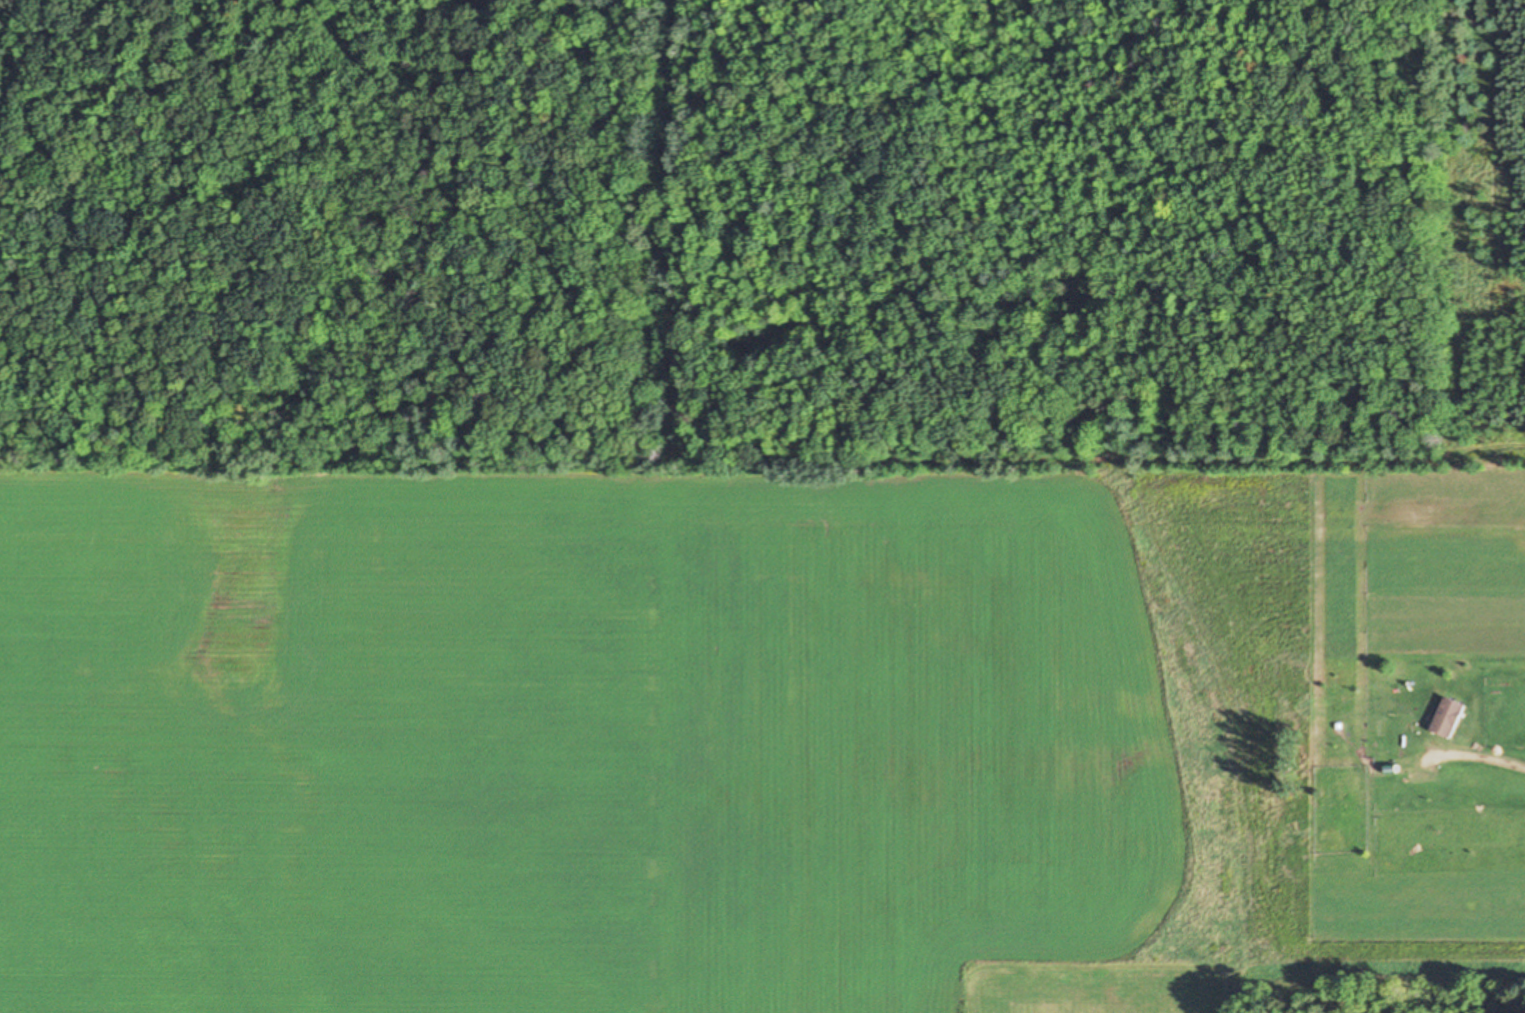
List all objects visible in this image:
building: (1450, 716)

